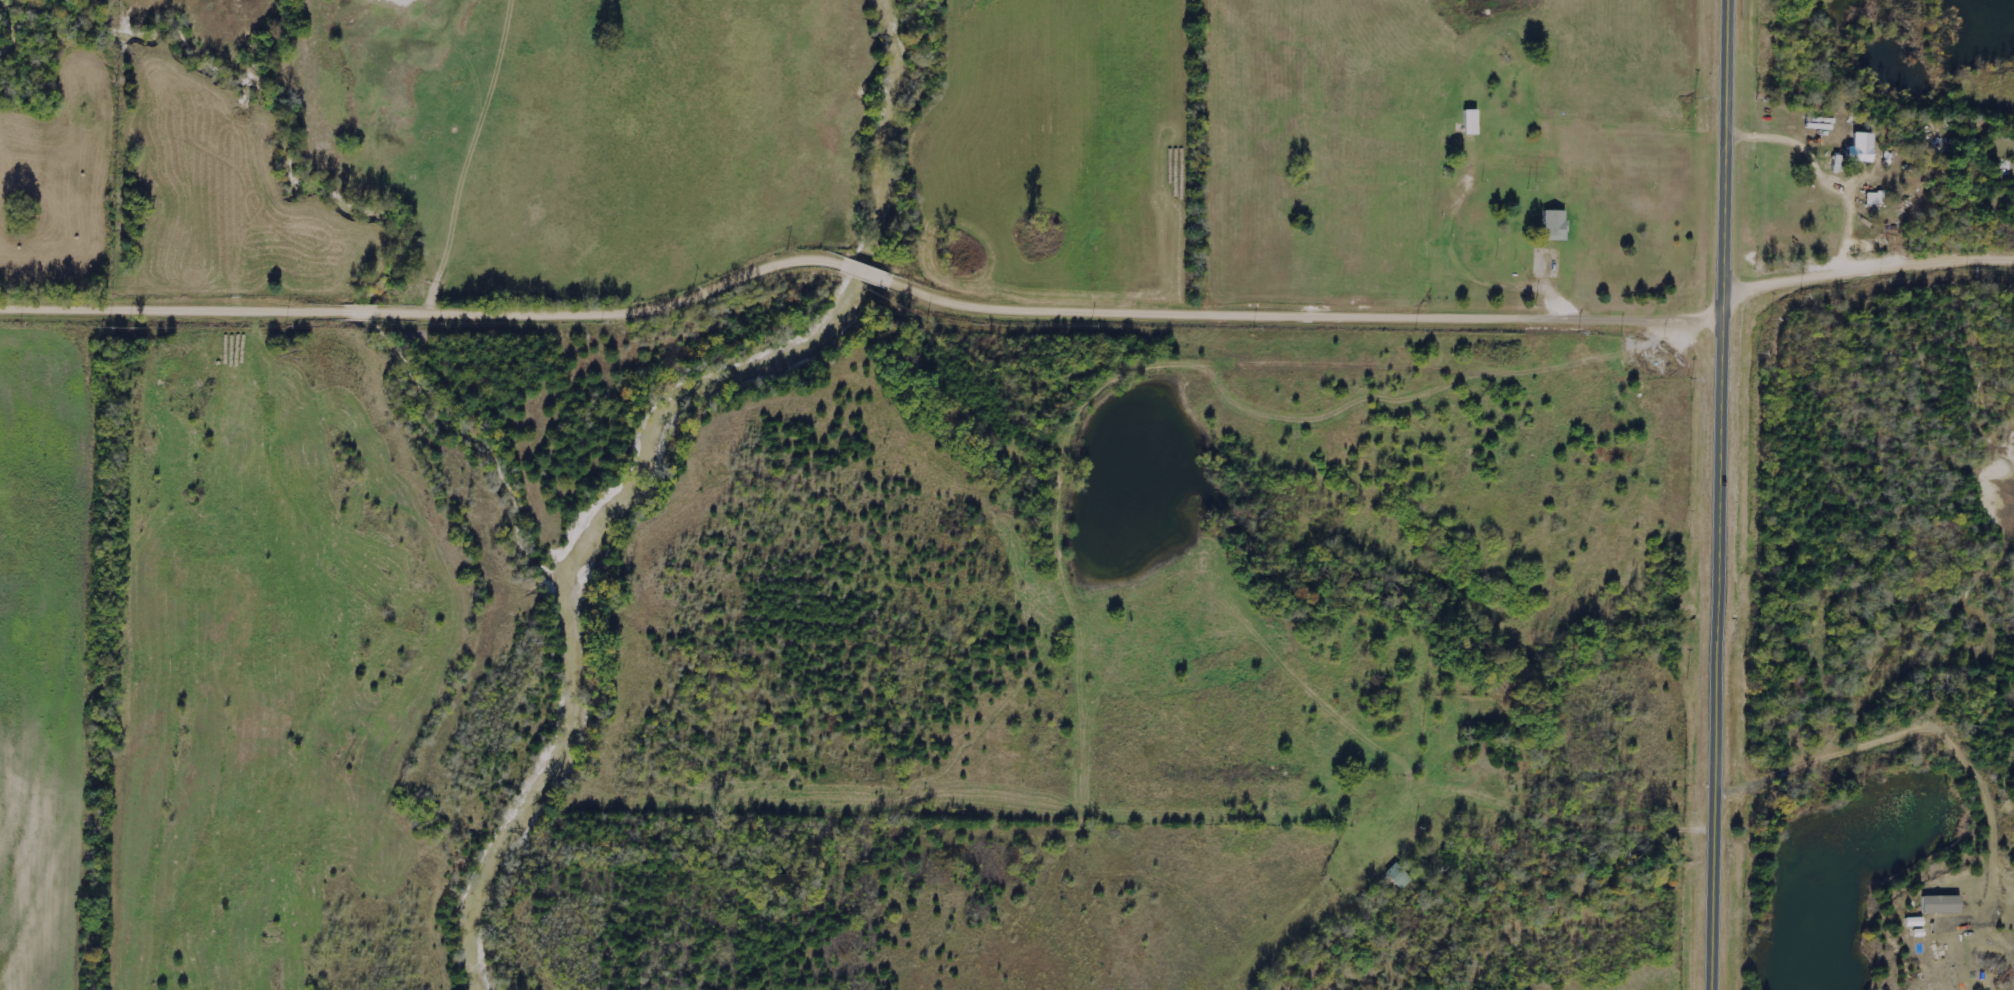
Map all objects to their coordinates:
building: (1468, 123)
building: (1859, 150)
building: (1553, 226)
road: (866, 265)
road: (1869, 269)
road: (1725, 494)
building: (1940, 906)

